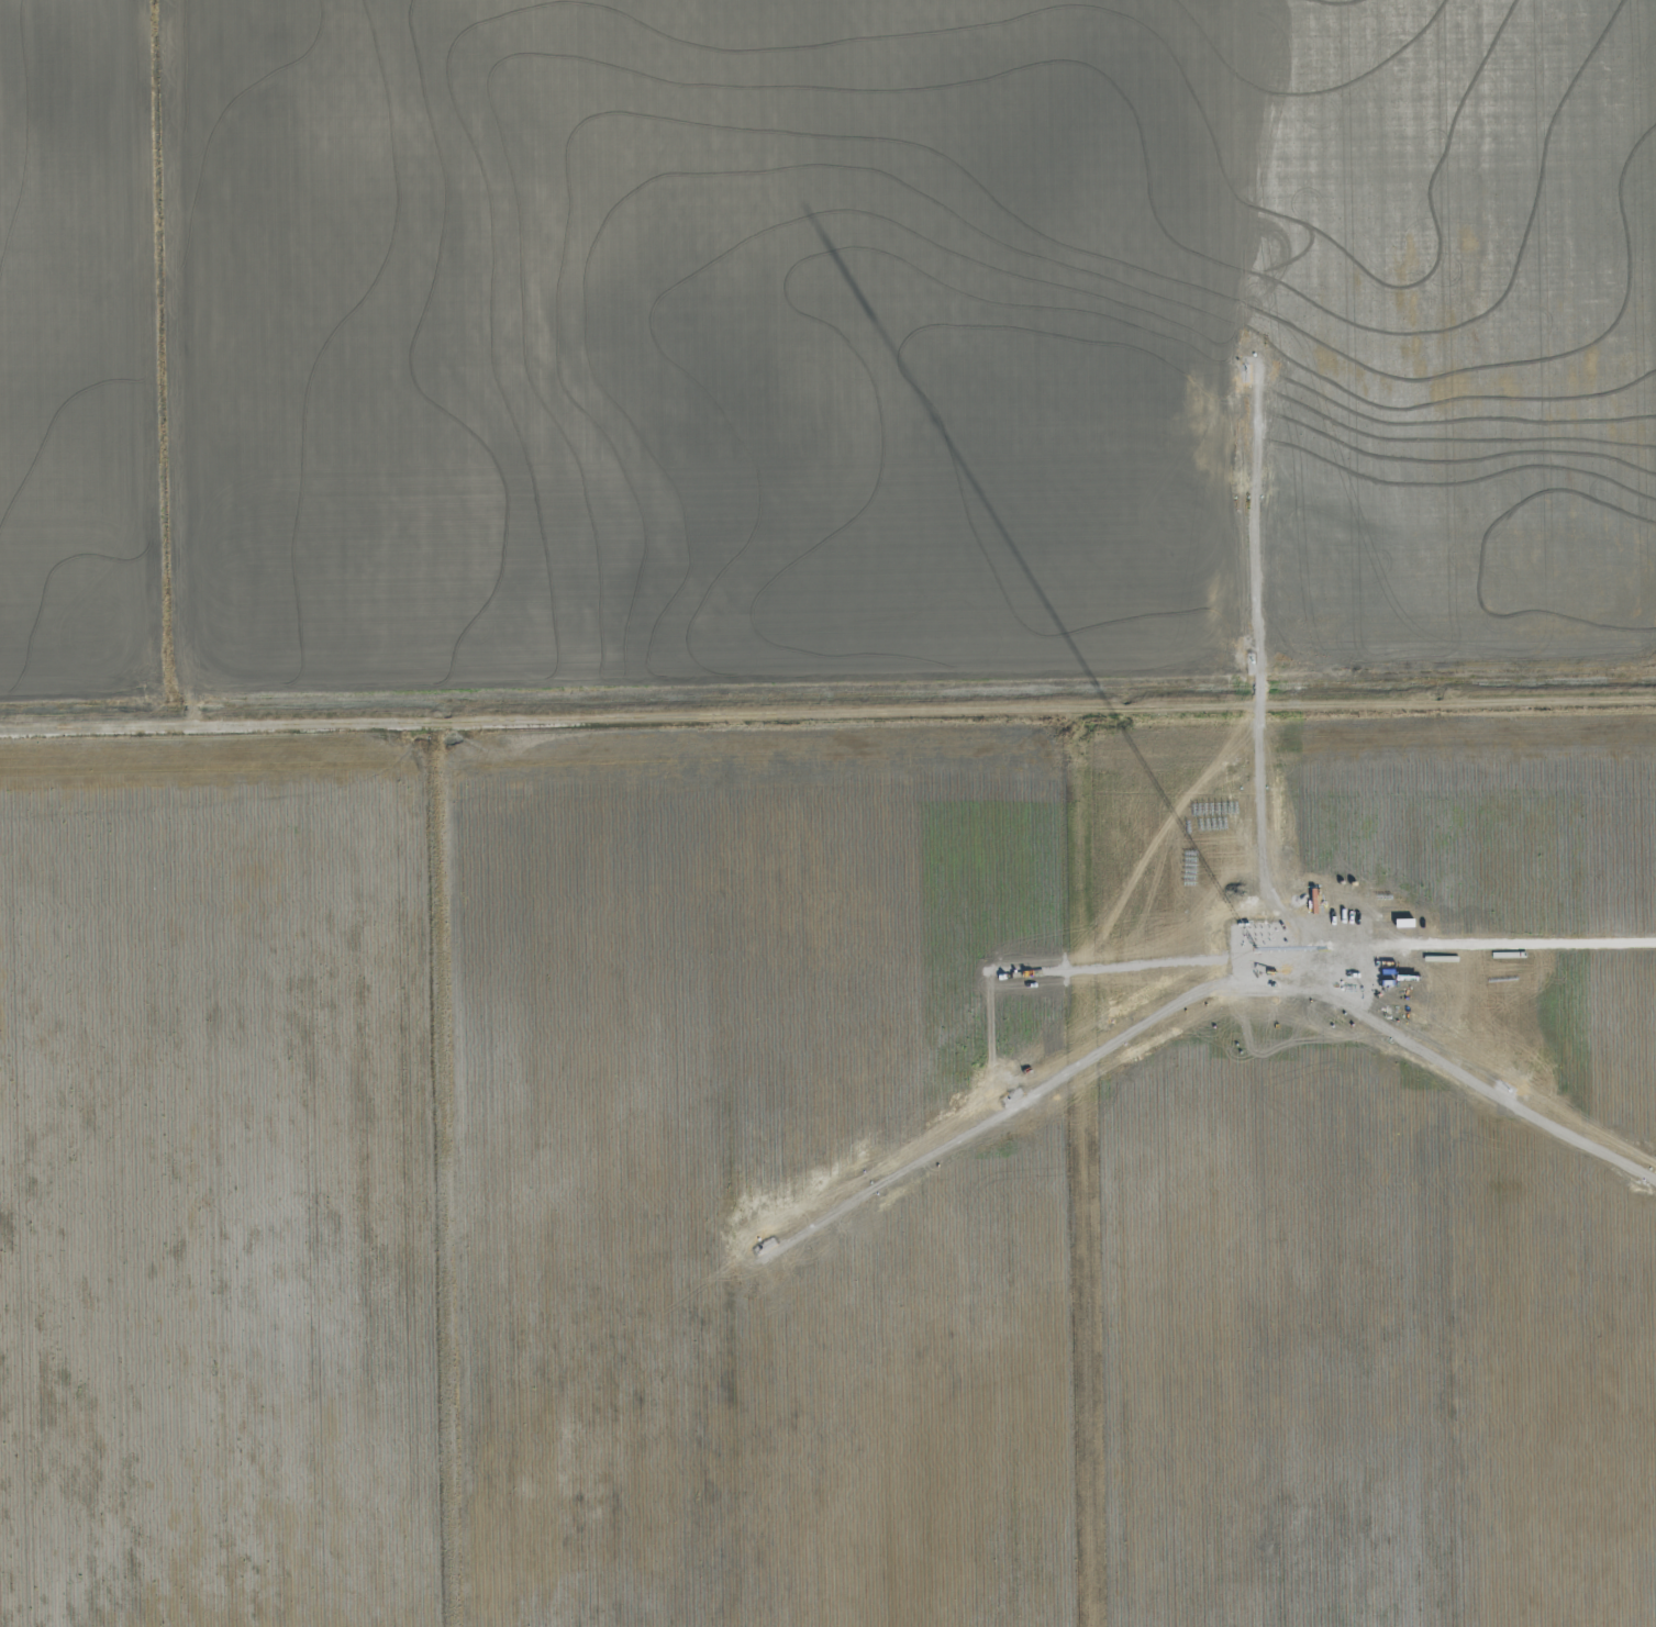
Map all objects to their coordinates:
road: (827, 726)
road: (1448, 1171)
road: (1091, 1173)
road: (460, 1182)

